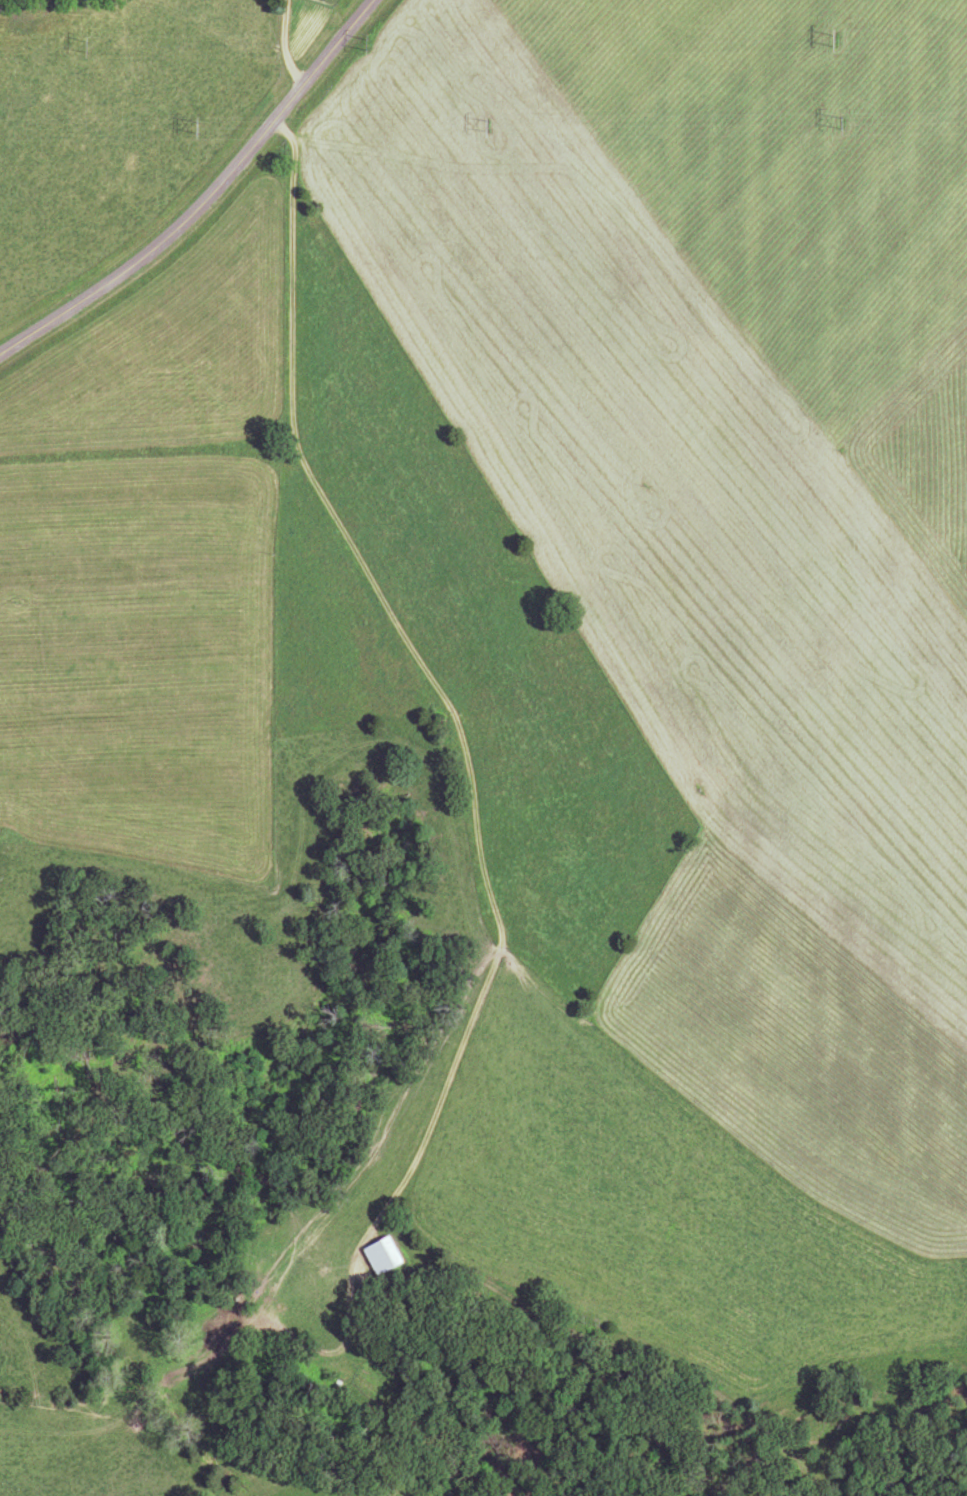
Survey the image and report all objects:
road: (295, 50)
road: (215, 202)
building: (387, 1255)

